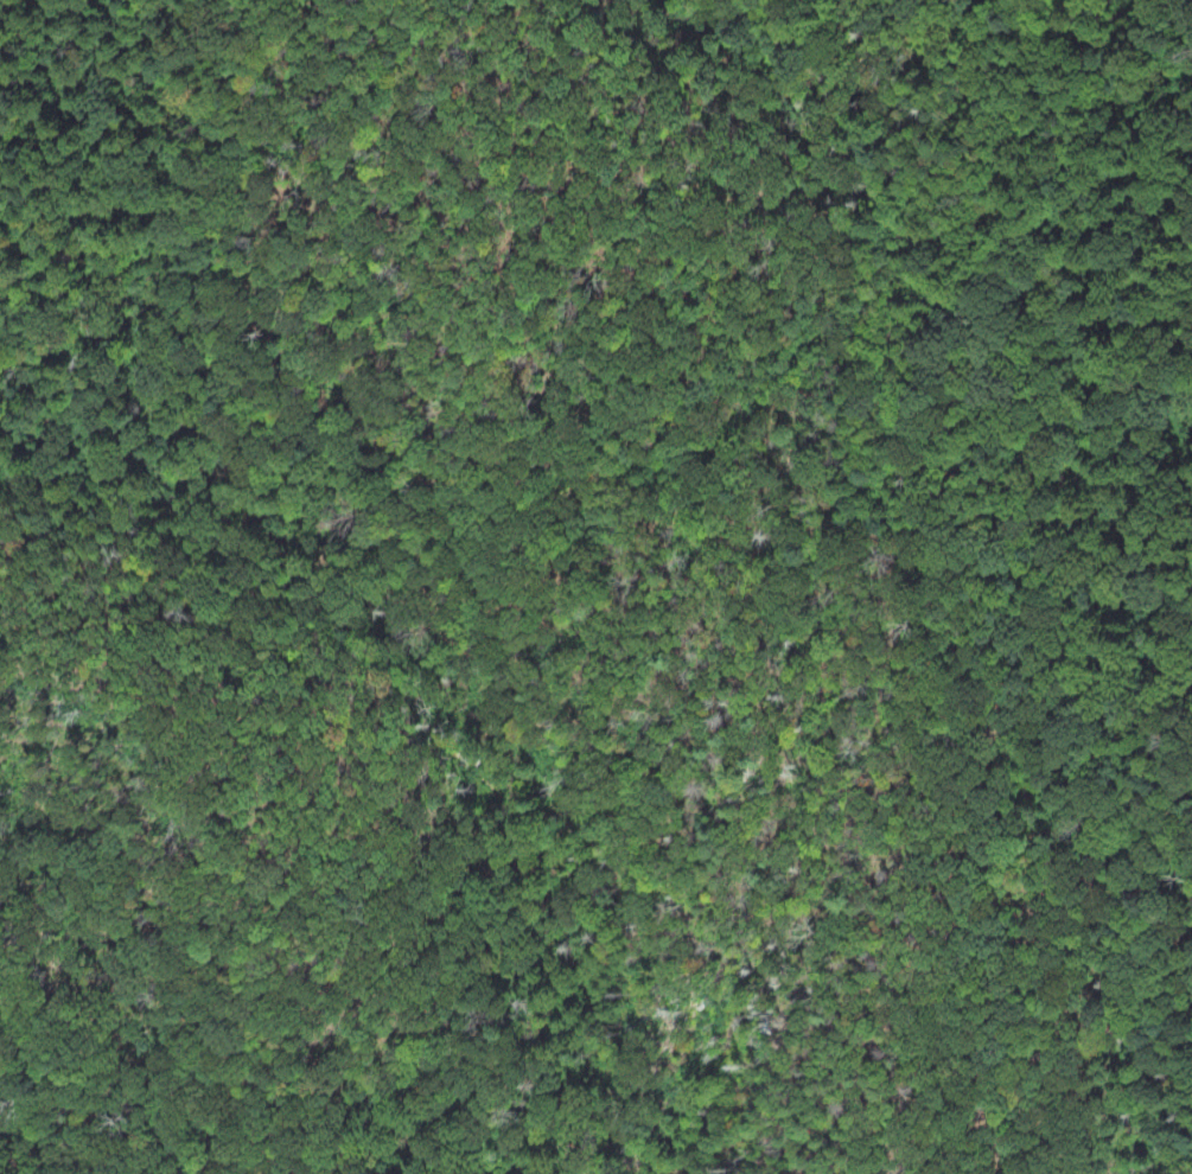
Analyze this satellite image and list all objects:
road: (1178, 23)
road: (651, 481)

